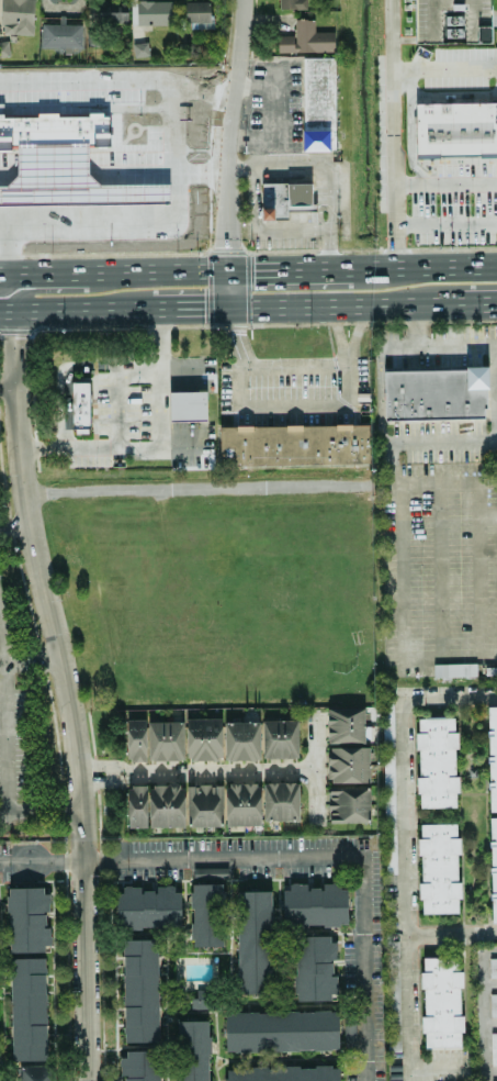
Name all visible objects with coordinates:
building: (292, 4)
building: (112, 11)
building: (196, 11)
building: (154, 12)
building: (16, 16)
road: (492, 19)
building: (449, 22)
parking lot: (449, 22)
building: (199, 25)
building: (61, 34)
building: (305, 40)
building: (140, 49)
road: (443, 68)
road: (118, 78)
building: (317, 104)
road: (87, 110)
road: (272, 119)
building: (455, 130)
road: (389, 134)
road: (230, 153)
road: (252, 153)
road: (9, 167)
road: (157, 167)
road: (52, 168)
road: (328, 168)
road: (8, 176)
road: (95, 176)
road: (115, 176)
road: (133, 176)
road: (155, 176)
road: (443, 182)
road: (25, 186)
road: (42, 186)
road: (60, 186)
road: (78, 186)
road: (97, 192)
road: (155, 192)
road: (115, 193)
road: (133, 193)
road: (8, 194)
building: (283, 199)
road: (155, 212)
road: (78, 213)
road: (97, 213)
road: (115, 213)
road: (133, 213)
road: (8, 214)
road: (25, 214)
road: (42, 214)
road: (60, 214)
road: (158, 224)
road: (443, 224)
road: (262, 230)
traffic signals: (233, 244)
road: (8, 249)
road: (420, 268)
traffic signals: (256, 270)
road: (290, 270)
road: (116, 271)
road: (4, 283)
road: (48, 288)
road: (427, 288)
road: (365, 304)
road: (195, 308)
traffic signals: (202, 308)
road: (78, 309)
road: (373, 323)
traffic signals: (236, 332)
road: (357, 332)
road: (338, 336)
road: (237, 337)
road: (433, 345)
road: (296, 367)
road: (5, 385)
building: (434, 392)
building: (187, 405)
building: (79, 406)
road: (496, 438)
building: (293, 444)
road: (161, 449)
road: (386, 484)
road: (197, 489)
road: (489, 514)
road: (14, 530)
road: (441, 549)
road: (482, 549)
road: (400, 571)
road: (42, 587)
road: (448, 657)
road: (29, 661)
building: (454, 670)
road: (448, 693)
road: (13, 700)
building: (344, 725)
building: (203, 738)
building: (135, 739)
building: (279, 739)
building: (165, 740)
building: (240, 740)
road: (485, 743)
road: (458, 744)
building: (492, 758)
building: (436, 764)
building: (347, 765)
road: (59, 769)
road: (314, 770)
road: (194, 772)
building: (388, 773)
building: (280, 802)
building: (241, 804)
building: (166, 805)
building: (203, 805)
building: (348, 805)
building: (136, 806)
road: (485, 812)
road: (39, 814)
road: (430, 815)
road: (484, 815)
road: (490, 815)
road: (350, 859)
road: (104, 862)
road: (41, 863)
building: (492, 868)
building: (438, 870)
road: (486, 881)
parking lot: (408, 888)
road: (99, 896)
building: (314, 906)
building: (147, 907)
road: (400, 909)
building: (206, 915)
building: (26, 920)
road: (449, 930)
building: (255, 940)
road: (461, 948)
building: (315, 968)
building: (493, 968)
road: (83, 971)
building: (139, 992)
building: (393, 996)
building: (440, 1002)
building: (493, 1005)
building: (27, 1008)
building: (281, 1030)
building: (494, 1048)
building: (192, 1051)
building: (139, 1066)
building: (35, 1073)
building: (283, 1074)

